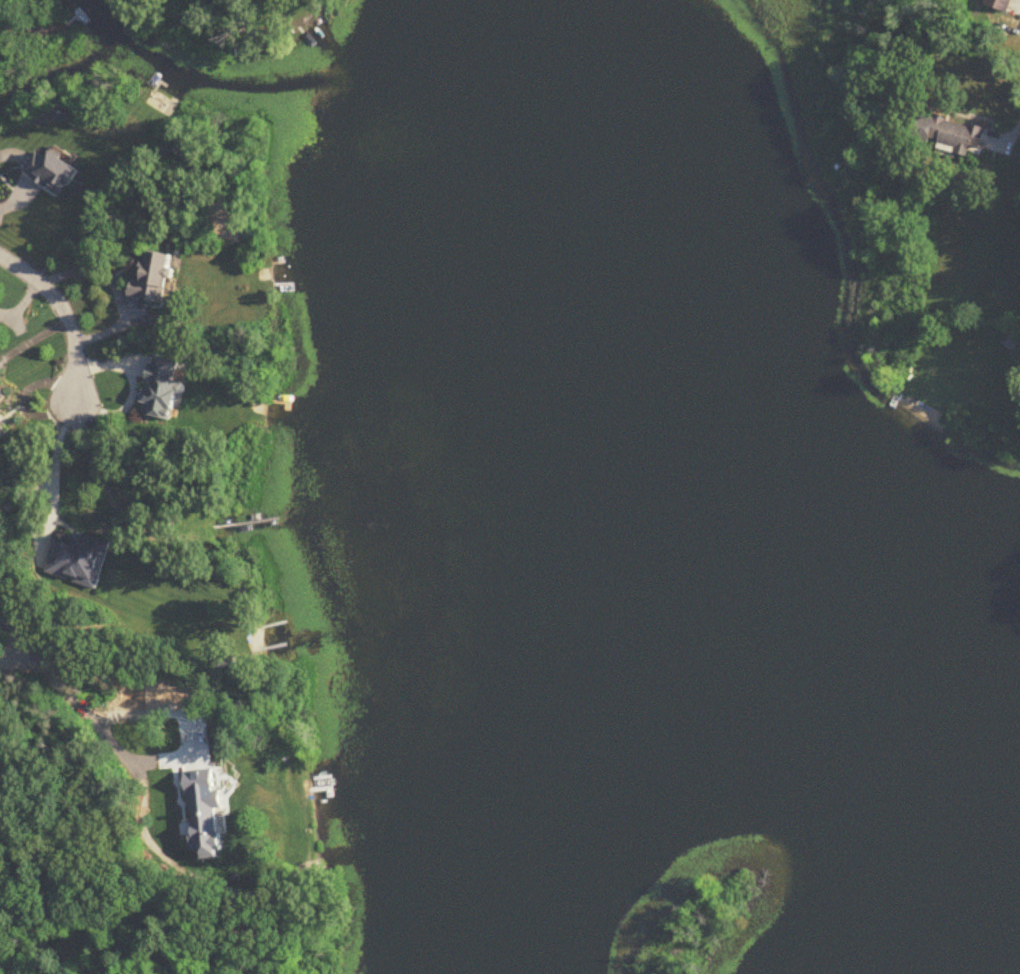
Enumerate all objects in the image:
building: (1000, 4)
road: (1019, 118)
building: (949, 135)
building: (186, 149)
building: (152, 278)
road: (118, 286)
road: (65, 317)
road: (986, 344)
road: (133, 386)
building: (160, 388)
building: (1, 397)
building: (2, 431)
road: (53, 462)
building: (78, 561)
building: (225, 662)
road: (78, 702)
building: (208, 803)

